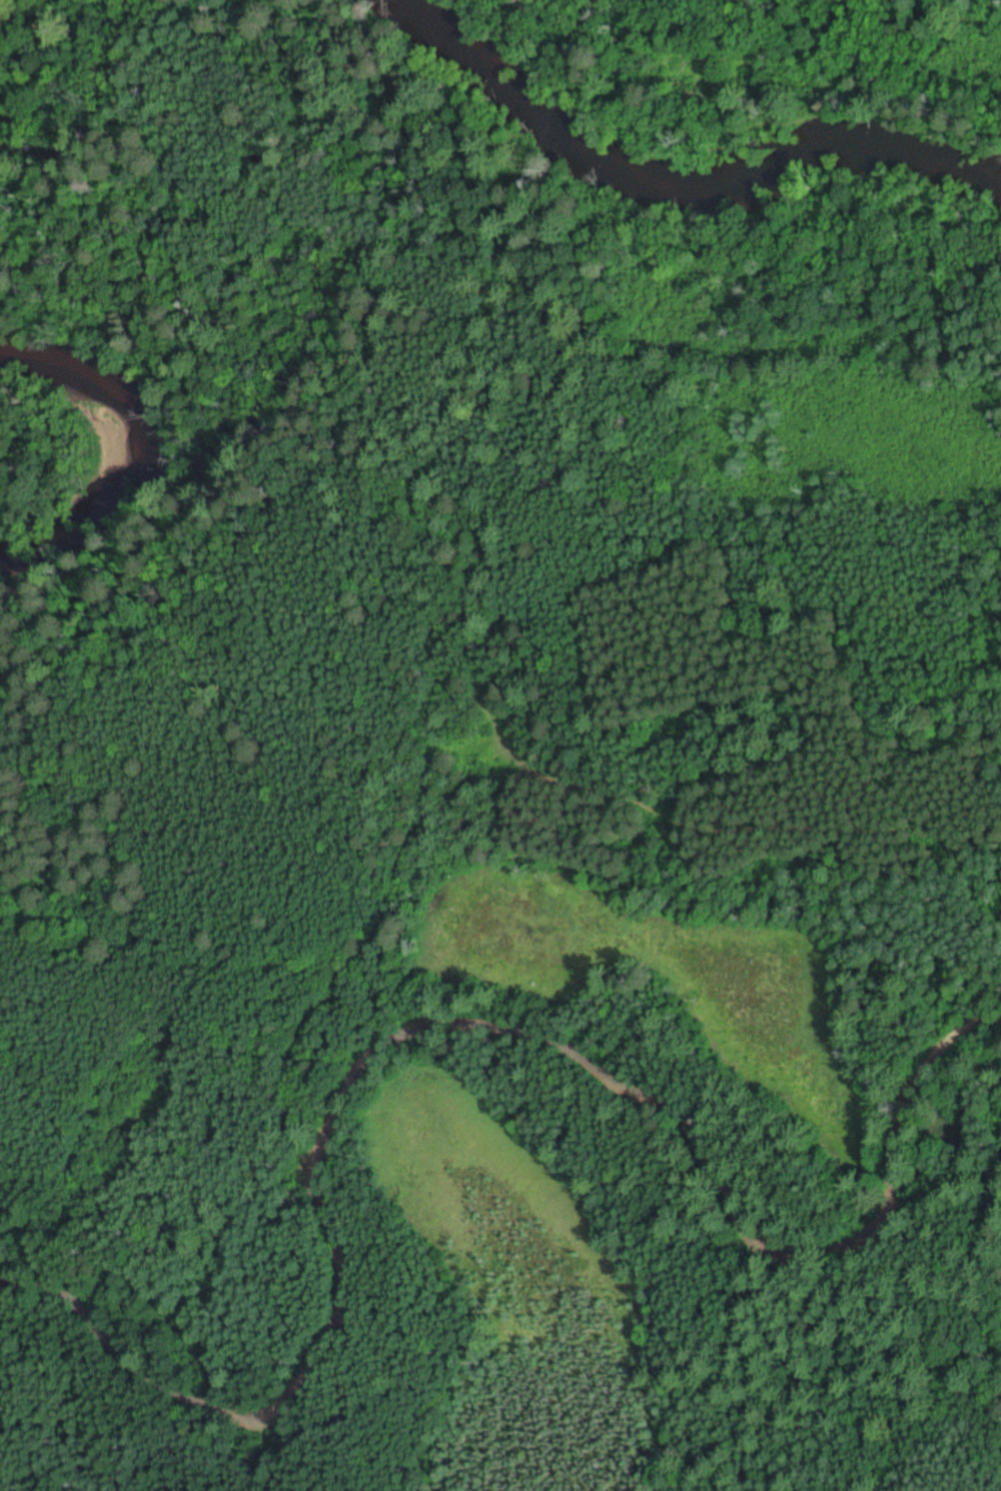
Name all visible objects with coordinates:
river: (678, 181)
river: (128, 454)

